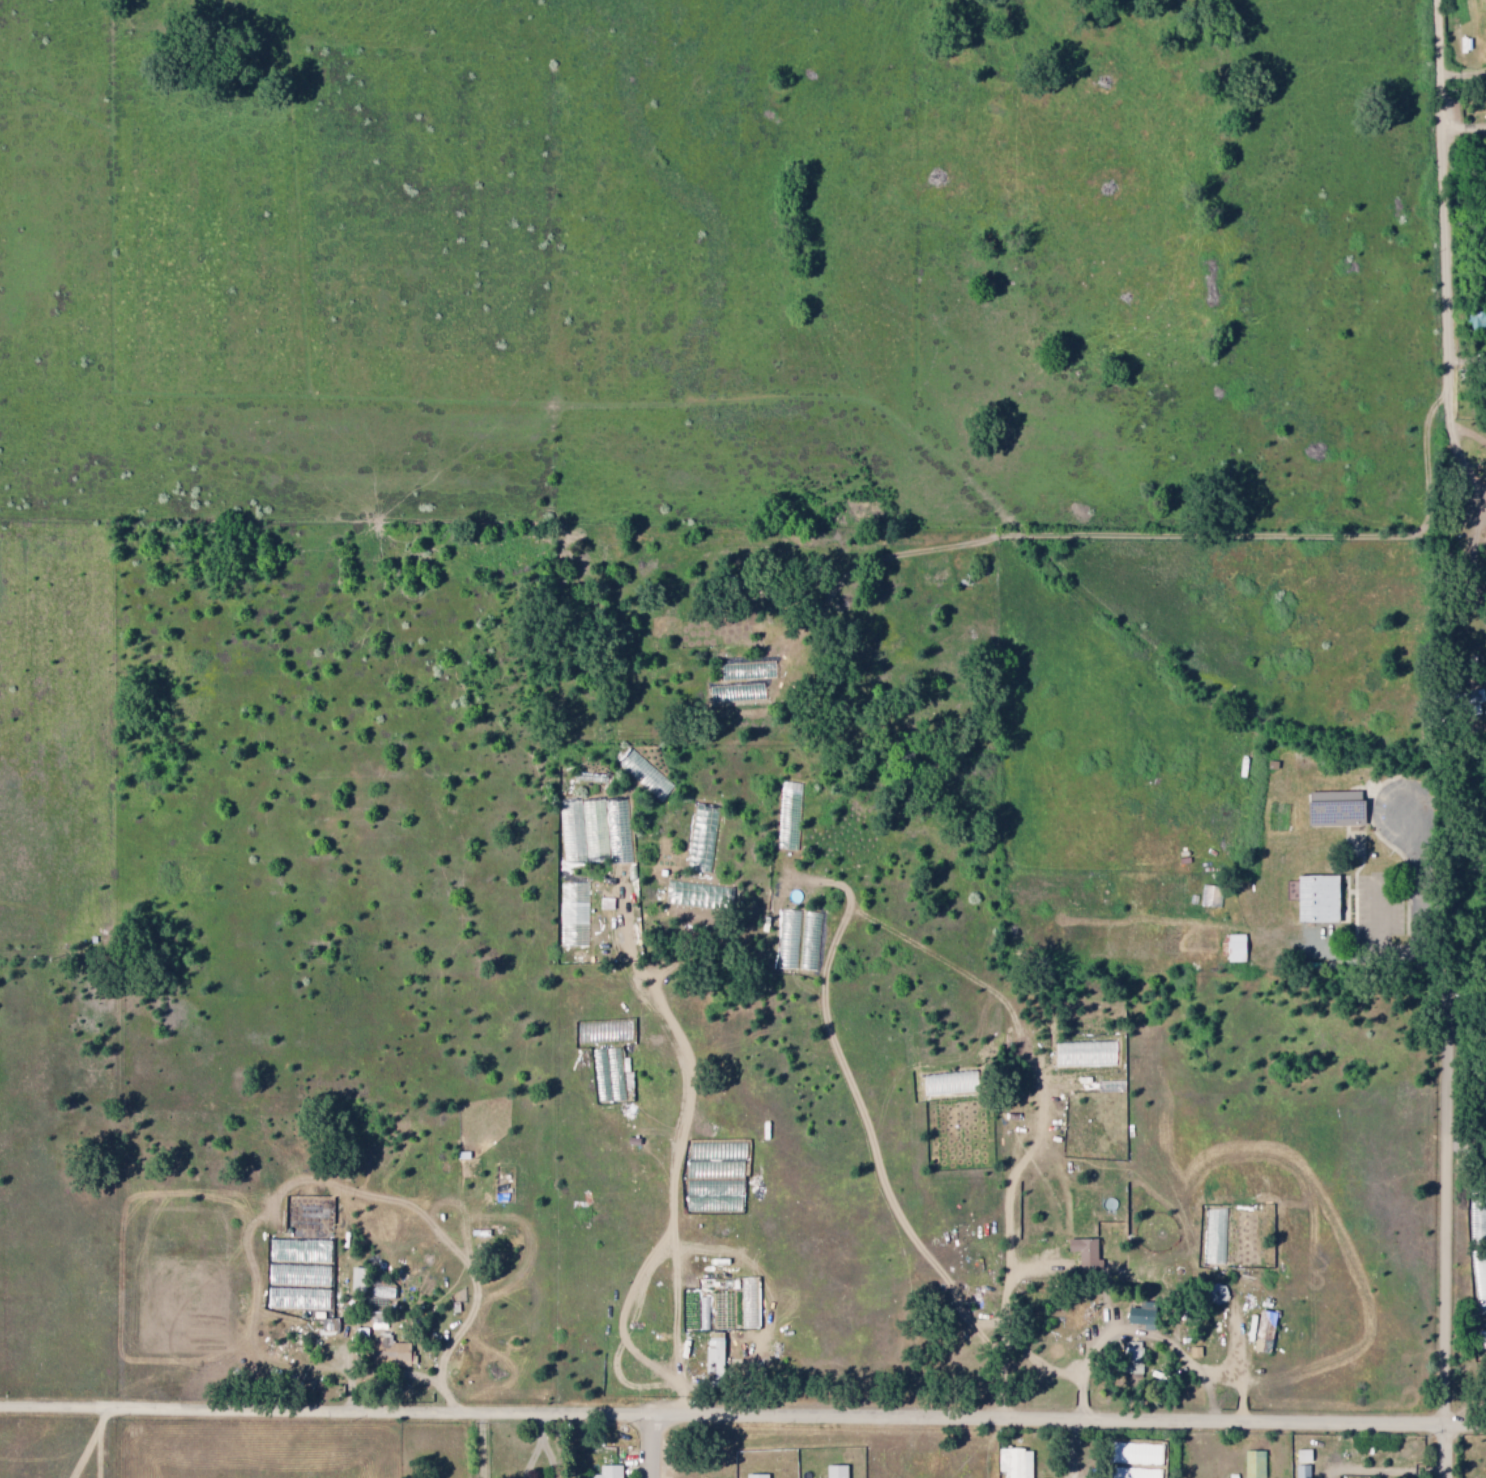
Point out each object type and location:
road: (1450, 192)
building: (1474, 320)
road: (1459, 444)
road: (1426, 618)
building: (1462, 699)
building: (1331, 808)
building: (1209, 896)
building: (1312, 899)
building: (1232, 949)
building: (608, 1073)
road: (1450, 1224)
building: (1087, 1252)
building: (358, 1279)
building: (380, 1296)
building: (1145, 1315)
building: (378, 1321)
building: (1265, 1333)
building: (397, 1351)
building: (716, 1357)
road: (743, 1411)
road: (660, 1444)
road: (1451, 1449)
building: (1299, 1456)
building: (1014, 1463)
building: (1254, 1464)
building: (1299, 1471)
building: (610, 1472)
building: (837, 1472)
building: (758, 1476)

